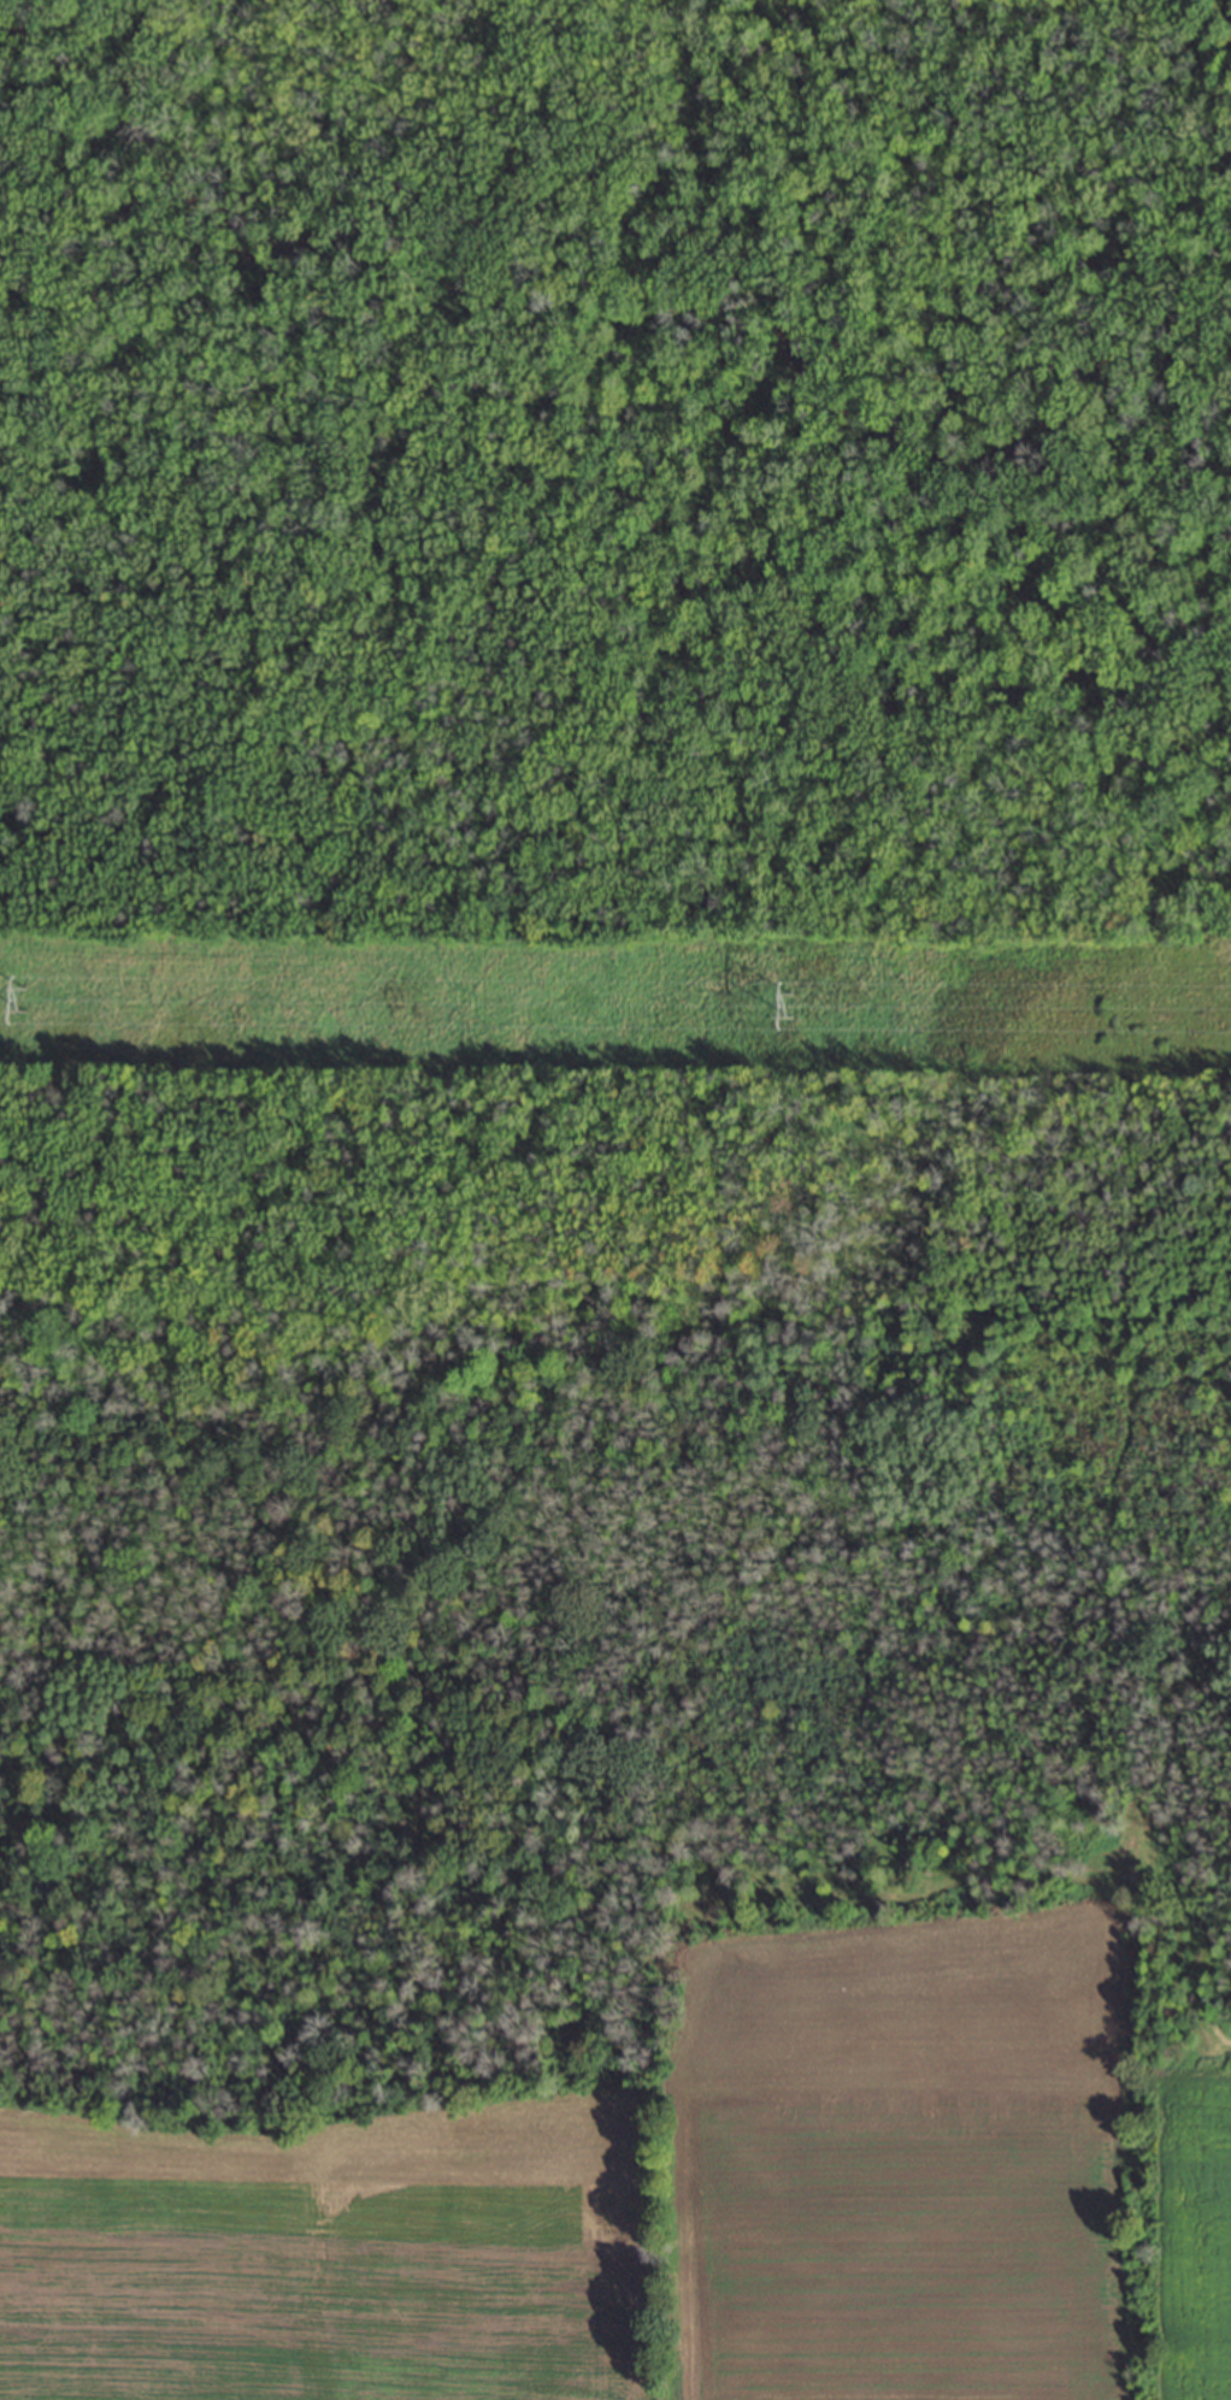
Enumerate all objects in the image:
power tower: (23, 996)
power tower: (788, 1001)

